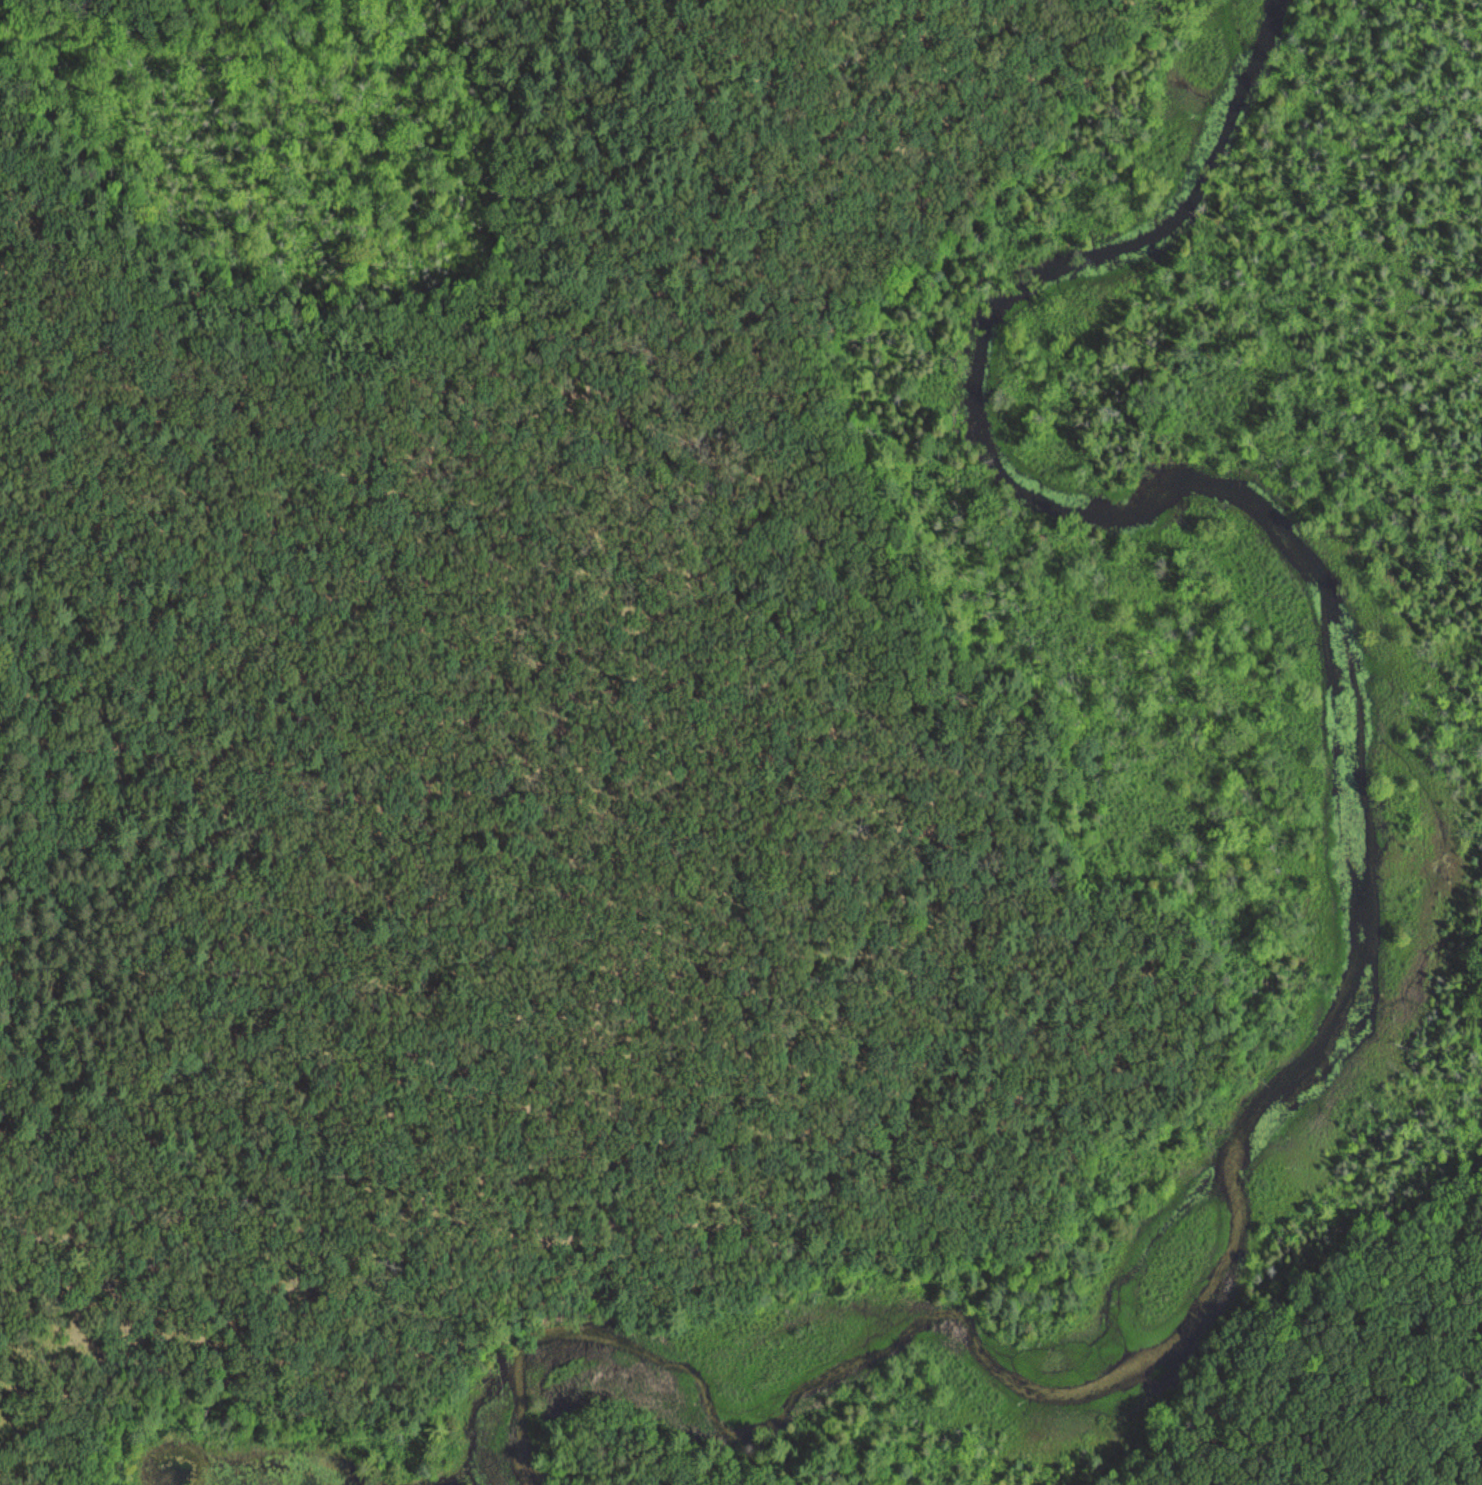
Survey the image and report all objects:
road: (1155, 1086)
road: (37, 1355)

